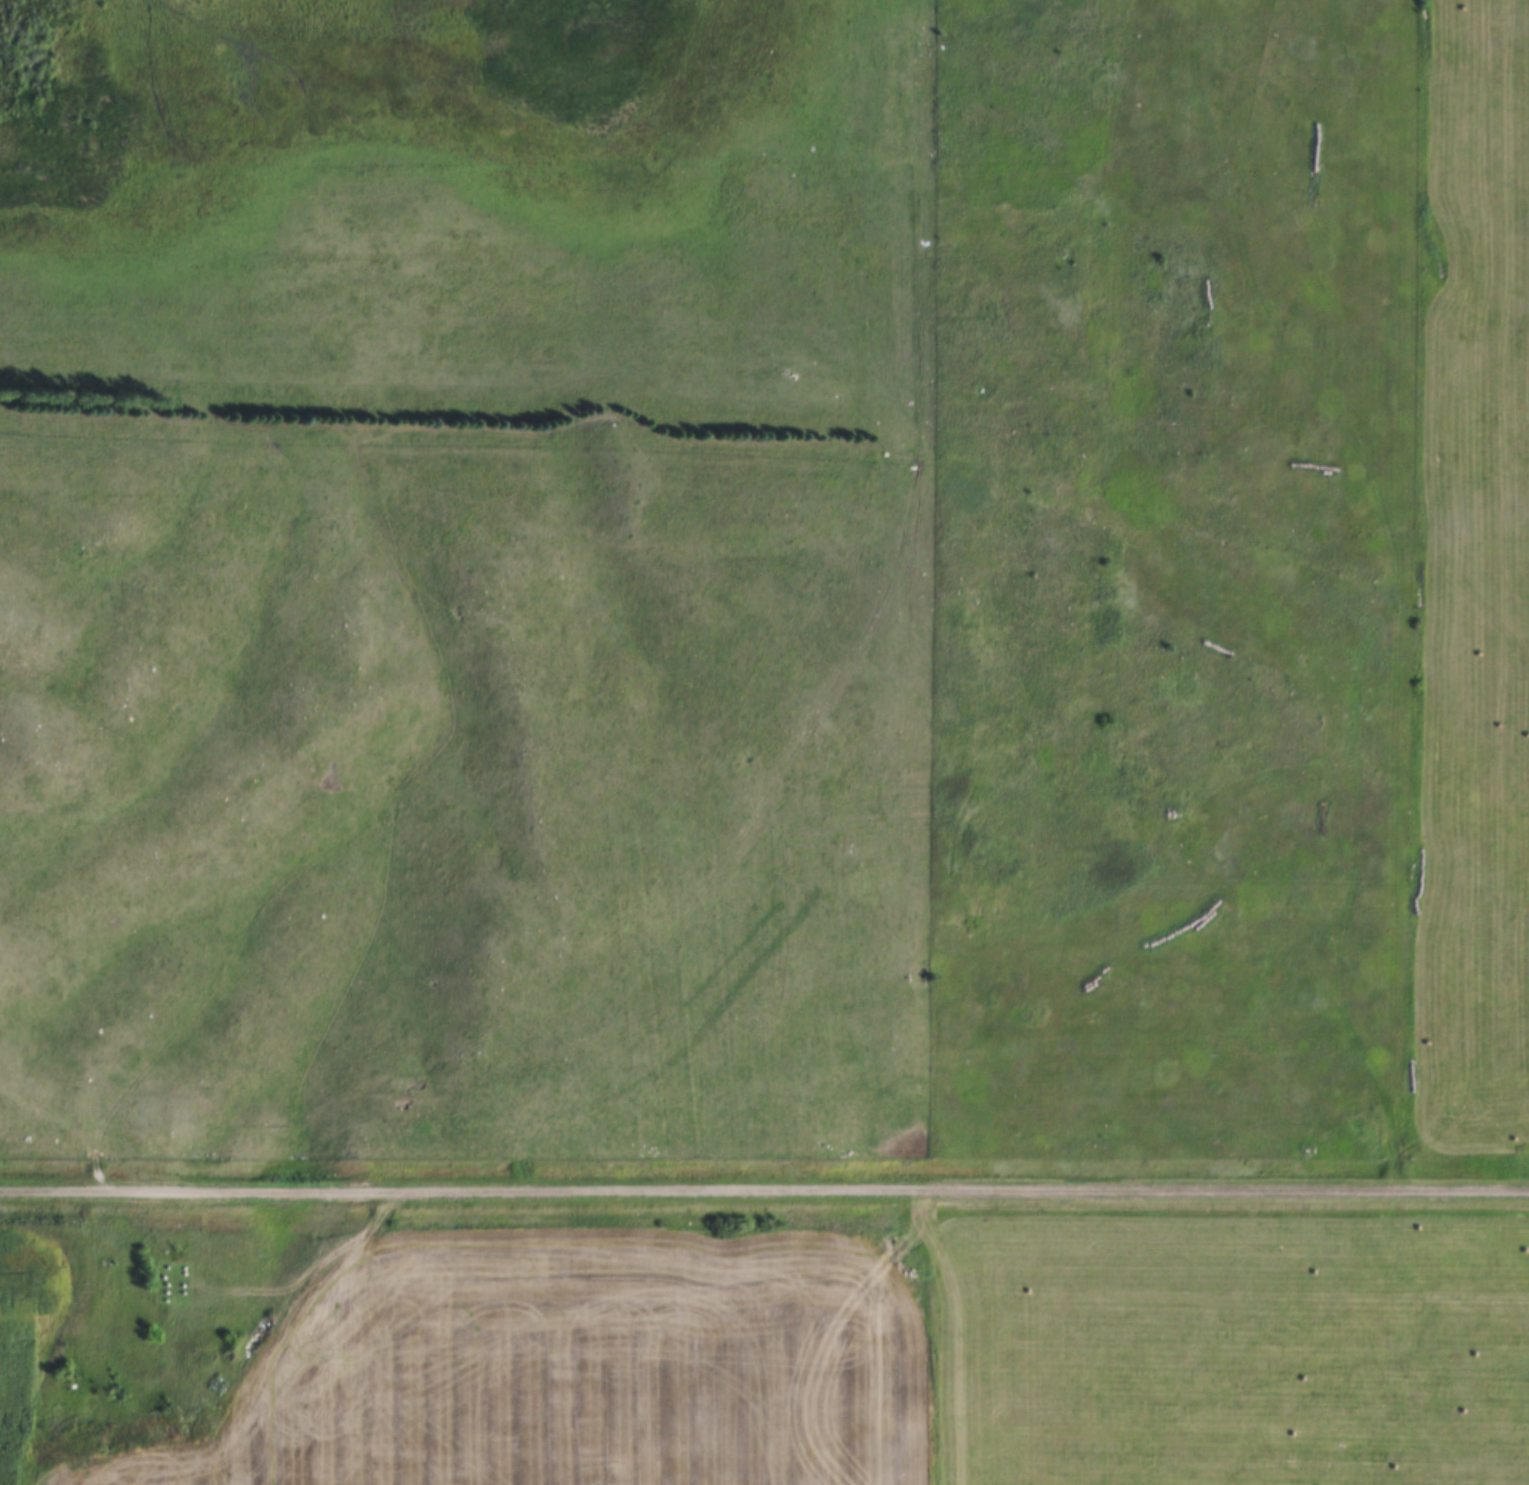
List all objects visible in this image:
road: (764, 1184)
road: (294, 1331)

